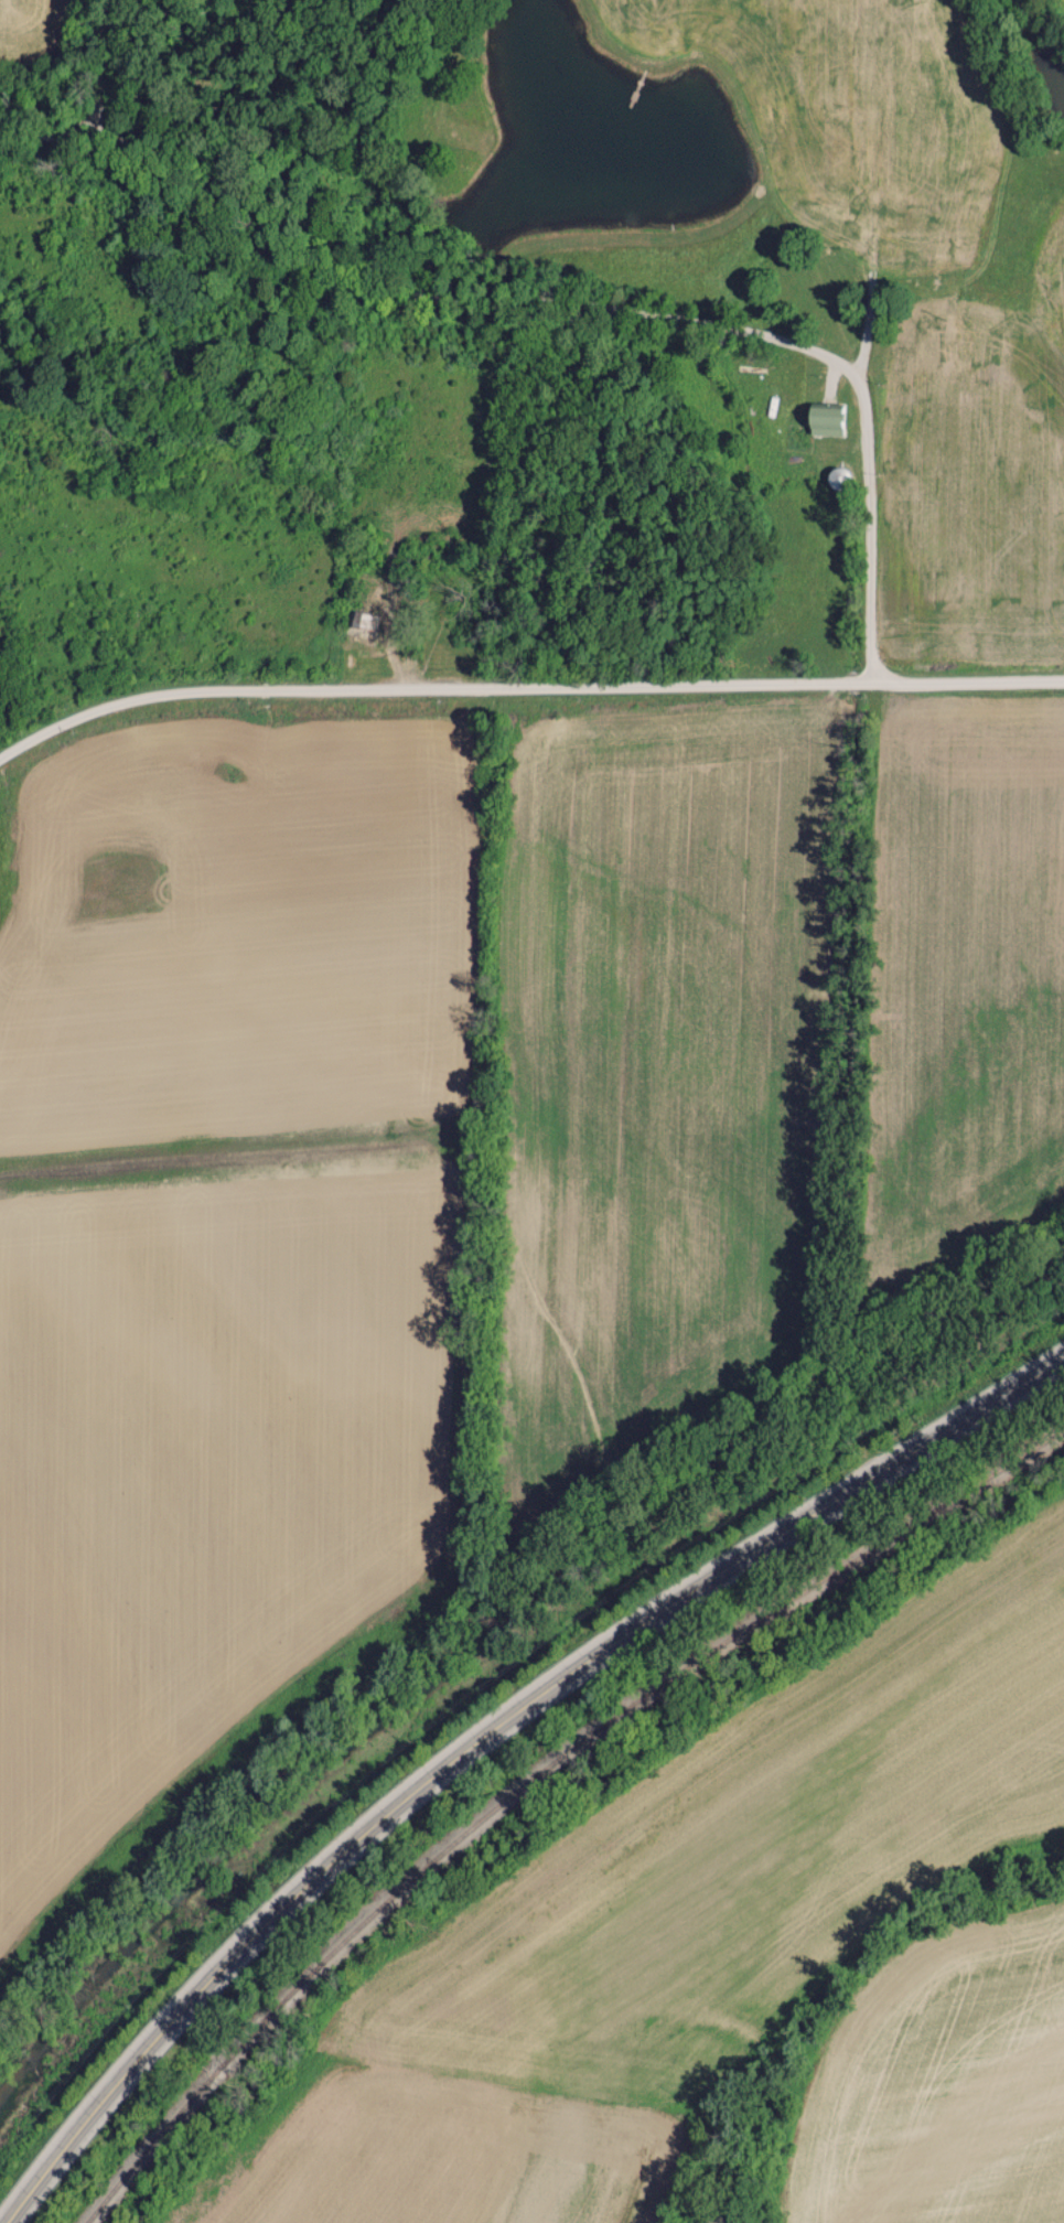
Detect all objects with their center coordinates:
road: (94, 115)
road: (610, 310)
building: (823, 418)
building: (363, 621)
road: (523, 678)
road: (482, 1728)
railway: (537, 1779)

